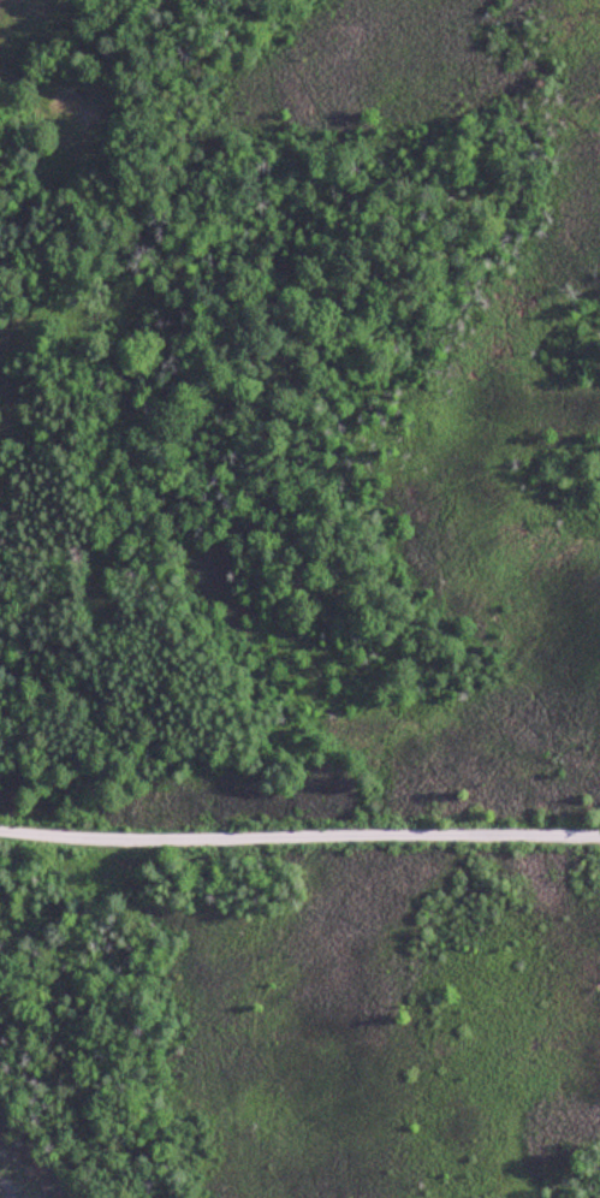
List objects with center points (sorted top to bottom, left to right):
road: (299, 825)

